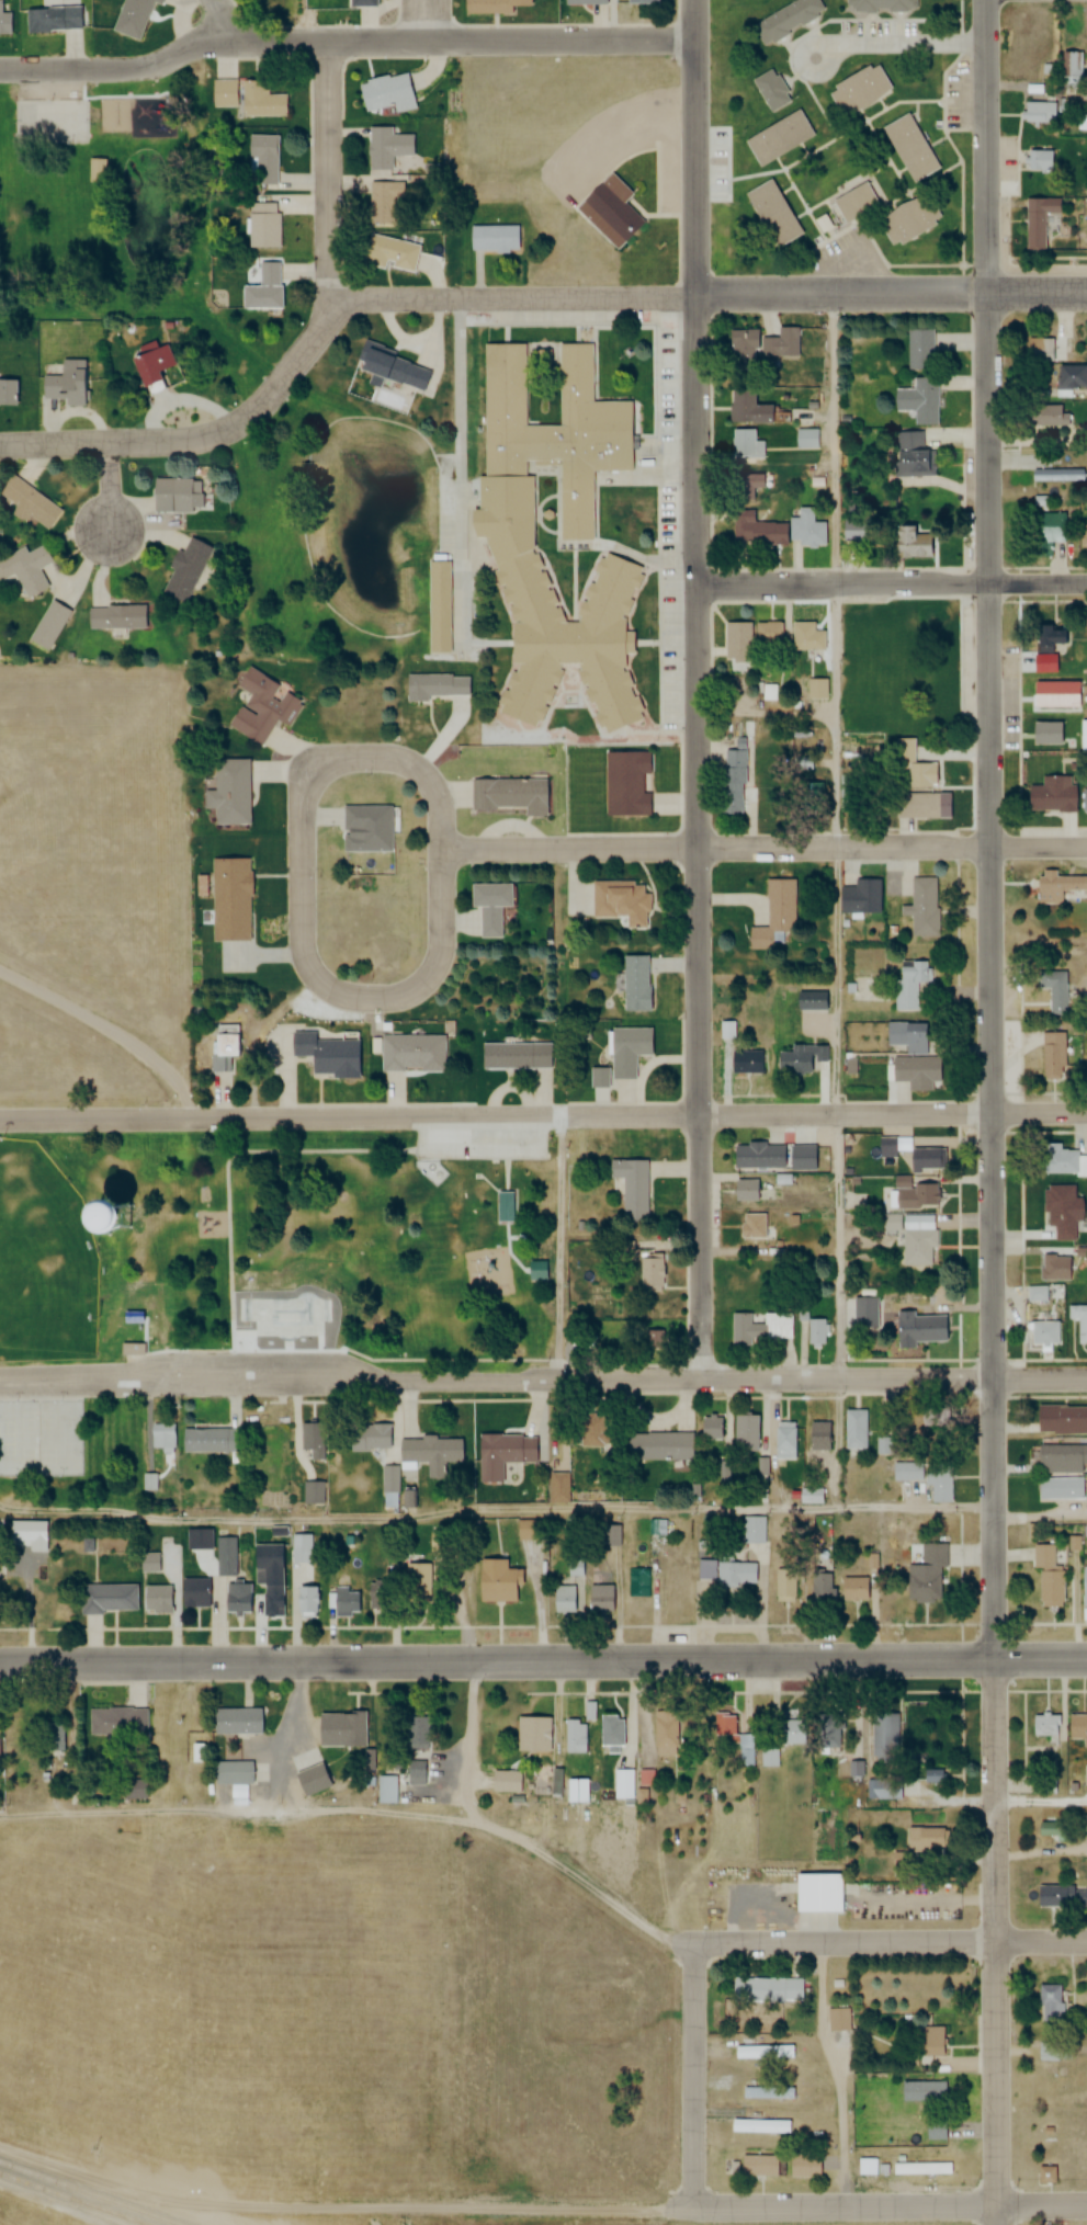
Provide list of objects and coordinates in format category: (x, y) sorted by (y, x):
building: (587, 1)
building: (639, 2)
building: (362, 3)
building: (882, 5)
building: (496, 7)
building: (3, 18)
building: (133, 18)
building: (786, 19)
building: (53, 20)
road: (217, 21)
road: (428, 21)
road: (903, 42)
road: (344, 43)
building: (1073, 68)
building: (859, 90)
building: (771, 91)
building: (224, 93)
building: (386, 93)
building: (261, 101)
building: (1040, 113)
building: (778, 138)
building: (910, 147)
building: (386, 148)
building: (262, 160)
building: (1043, 160)
building: (98, 169)
road: (328, 170)
park: (87, 200)
building: (384, 202)
building: (856, 203)
building: (610, 212)
building: (772, 213)
building: (909, 220)
building: (1040, 222)
building: (262, 226)
building: (494, 239)
building: (390, 253)
building: (263, 290)
road: (709, 294)
building: (781, 342)
building: (741, 344)
building: (920, 349)
building: (1039, 350)
building: (539, 362)
building: (149, 365)
building: (389, 367)
building: (1071, 379)
building: (65, 389)
building: (8, 393)
building: (918, 398)
building: (746, 407)
building: (1049, 416)
road: (201, 436)
building: (745, 443)
building: (910, 453)
building: (1057, 475)
building: (745, 485)
road: (109, 488)
building: (177, 496)
building: (27, 502)
building: (516, 523)
building: (807, 527)
building: (755, 529)
building: (1045, 531)
building: (1084, 536)
building: (910, 541)
building: (184, 569)
building: (29, 572)
road: (890, 584)
building: (437, 606)
building: (115, 616)
building: (768, 633)
building: (1050, 637)
building: (808, 638)
building: (736, 639)
building: (434, 686)
road: (695, 689)
building: (817, 689)
building: (1054, 693)
building: (262, 707)
building: (1046, 731)
building: (1083, 735)
building: (912, 765)
building: (732, 782)
building: (626, 784)
building: (229, 793)
building: (811, 794)
building: (1052, 795)
building: (509, 796)
building: (1084, 802)
building: (913, 806)
building: (366, 829)
road: (838, 835)
road: (766, 847)
road: (303, 856)
building: (1056, 886)
building: (860, 897)
building: (230, 898)
building: (621, 901)
building: (490, 907)
building: (921, 907)
building: (775, 912)
building: (635, 984)
building: (912, 984)
building: (1054, 991)
building: (812, 1001)
road: (113, 1025)
building: (907, 1037)
building: (224, 1045)
building: (627, 1049)
building: (414, 1053)
building: (326, 1054)
building: (510, 1055)
building: (1052, 1056)
building: (1086, 1057)
building: (801, 1059)
building: (746, 1062)
building: (915, 1072)
building: (599, 1077)
road: (990, 1112)
road: (543, 1119)
parking lot: (484, 1145)
building: (757, 1156)
building: (924, 1159)
building: (1062, 1161)
building: (631, 1187)
building: (747, 1190)
building: (916, 1195)
building: (507, 1205)
building: (1061, 1211)
water tower: (110, 1216)
building: (890, 1223)
building: (752, 1226)
park: (390, 1244)
building: (917, 1247)
road: (563, 1248)
building: (1055, 1268)
building: (536, 1270)
building: (652, 1274)
building: (1037, 1294)
park: (98, 1295)
building: (864, 1313)
park: (283, 1319)
building: (1079, 1320)
building: (762, 1328)
building: (815, 1328)
building: (919, 1328)
building: (1045, 1333)
building: (657, 1338)
building: (131, 1349)
road: (543, 1376)
building: (1061, 1419)
building: (930, 1426)
building: (713, 1428)
building: (590, 1431)
building: (856, 1432)
building: (745, 1434)
building: (819, 1435)
park: (36, 1437)
building: (161, 1437)
building: (312, 1439)
building: (786, 1439)
building: (203, 1440)
building: (659, 1446)
building: (507, 1449)
building: (399, 1453)
building: (1061, 1460)
building: (908, 1472)
building: (149, 1483)
building: (941, 1483)
building: (558, 1487)
building: (1060, 1488)
building: (312, 1492)
building: (813, 1496)
road: (542, 1514)
building: (1085, 1531)
building: (755, 1532)
building: (11, 1534)
building: (611, 1535)
building: (199, 1540)
building: (299, 1548)
building: (1042, 1556)
building: (224, 1557)
building: (147, 1563)
building: (728, 1573)
building: (269, 1577)
building: (929, 1577)
building: (416, 1580)
building: (639, 1581)
building: (496, 1582)
building: (786, 1586)
building: (1084, 1587)
building: (822, 1589)
building: (852, 1589)
building: (1050, 1590)
building: (193, 1593)
building: (235, 1598)
building: (565, 1598)
building: (107, 1599)
building: (601, 1599)
building: (155, 1600)
building: (344, 1601)
building: (306, 1602)
road: (543, 1664)
building: (236, 1719)
building: (116, 1722)
building: (1045, 1725)
building: (1077, 1726)
building: (349, 1730)
building: (610, 1732)
building: (416, 1733)
building: (665, 1733)
building: (826, 1733)
building: (539, 1735)
building: (885, 1735)
building: (49, 1737)
building: (574, 1739)
building: (747, 1752)
building: (770, 1758)
building: (233, 1771)
building: (414, 1772)
building: (933, 1776)
building: (622, 1784)
building: (384, 1789)
building: (134, 1791)
building: (577, 1791)
building: (1049, 1830)
road: (530, 1836)
building: (925, 1839)
building: (817, 1894)
building: (1055, 1895)
building: (1085, 1897)
road: (892, 1941)
building: (765, 1987)
building: (1051, 2005)
building: (838, 2019)
building: (929, 2042)
building: (767, 2053)
road: (695, 2076)
building: (925, 2090)
building: (767, 2091)
building: (766, 2127)
building: (936, 2130)
building: (804, 2165)
building: (757, 2166)
building: (1046, 2175)
railway: (89, 2193)
railway: (72, 2199)
road: (537, 2206)
road: (195, 2216)

